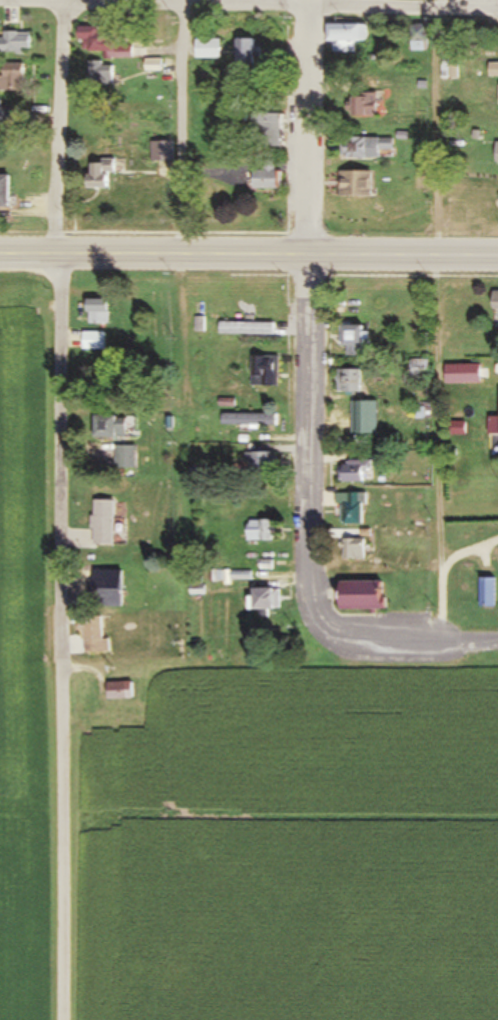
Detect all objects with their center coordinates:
road: (300, 3)
road: (248, 6)
building: (346, 37)
building: (14, 43)
building: (418, 43)
building: (100, 44)
building: (206, 48)
building: (245, 52)
building: (151, 65)
building: (99, 74)
building: (10, 77)
building: (366, 104)
building: (10, 115)
road: (58, 129)
building: (267, 129)
road: (180, 132)
road: (305, 133)
building: (366, 147)
building: (496, 152)
building: (99, 174)
building: (265, 177)
building: (353, 183)
building: (4, 191)
road: (248, 259)
building: (495, 301)
building: (98, 311)
building: (245, 329)
building: (353, 340)
building: (93, 341)
building: (418, 369)
building: (265, 372)
building: (454, 373)
building: (351, 381)
building: (248, 420)
building: (492, 426)
building: (111, 427)
road: (438, 453)
building: (126, 457)
building: (264, 464)
building: (354, 471)
road: (305, 506)
building: (350, 509)
building: (103, 523)
building: (261, 531)
building: (352, 550)
building: (109, 584)
building: (489, 593)
building: (361, 596)
building: (263, 599)
building: (93, 636)
road: (57, 637)
road: (470, 645)
building: (115, 691)

